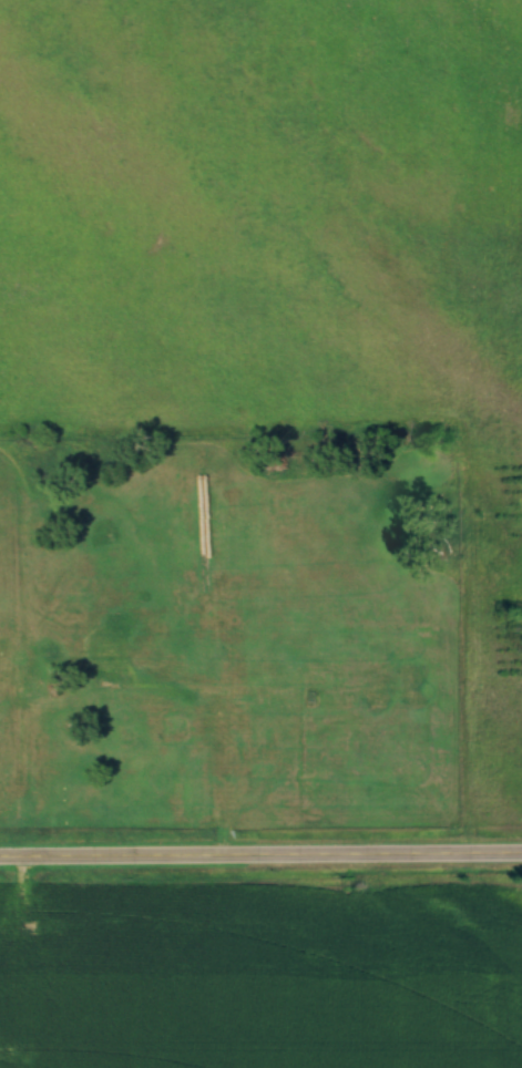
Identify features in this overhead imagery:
building: (110, 678)
road: (218, 754)
road: (260, 862)

